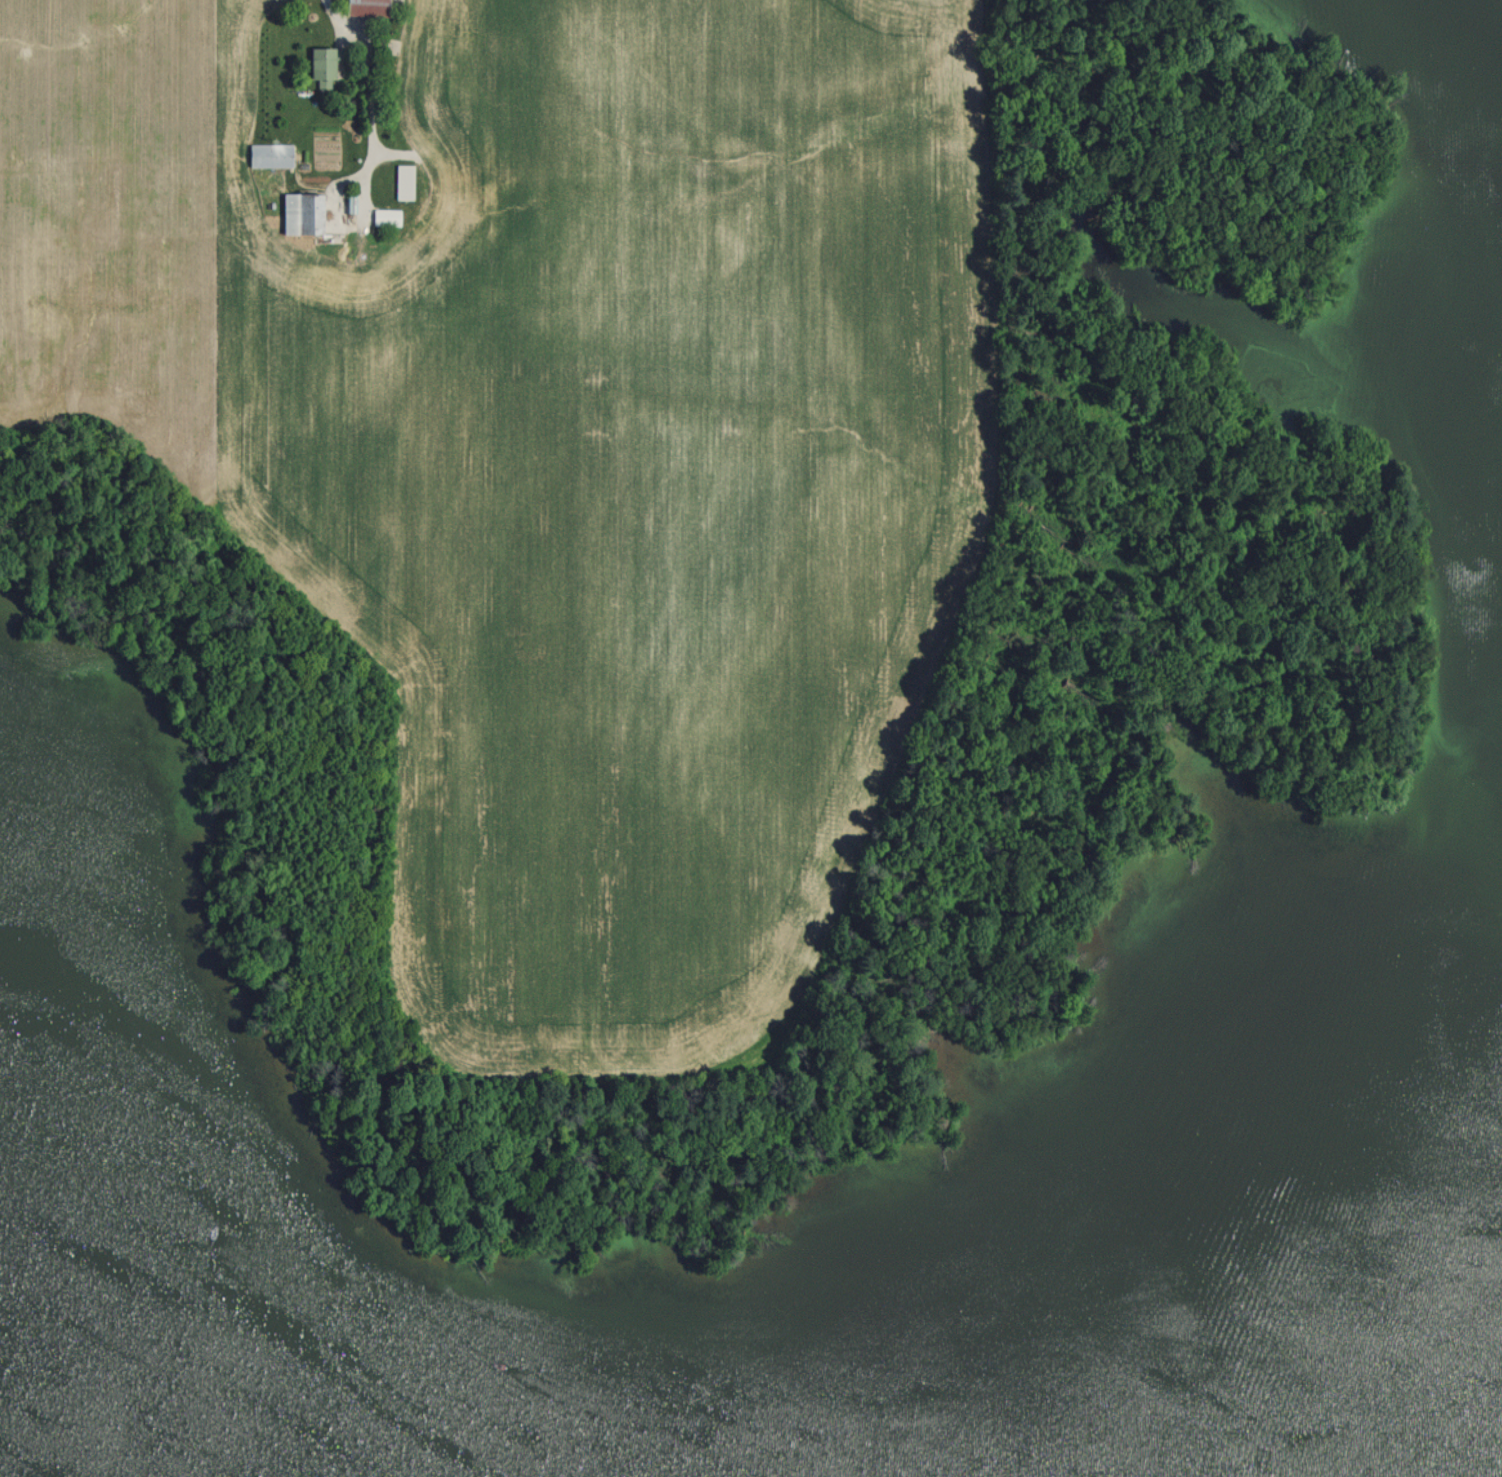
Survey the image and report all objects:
building: (366, 7)
road: (336, 23)
building: (321, 65)
building: (269, 155)
building: (404, 181)
building: (300, 213)
building: (385, 217)
building: (309, 284)

